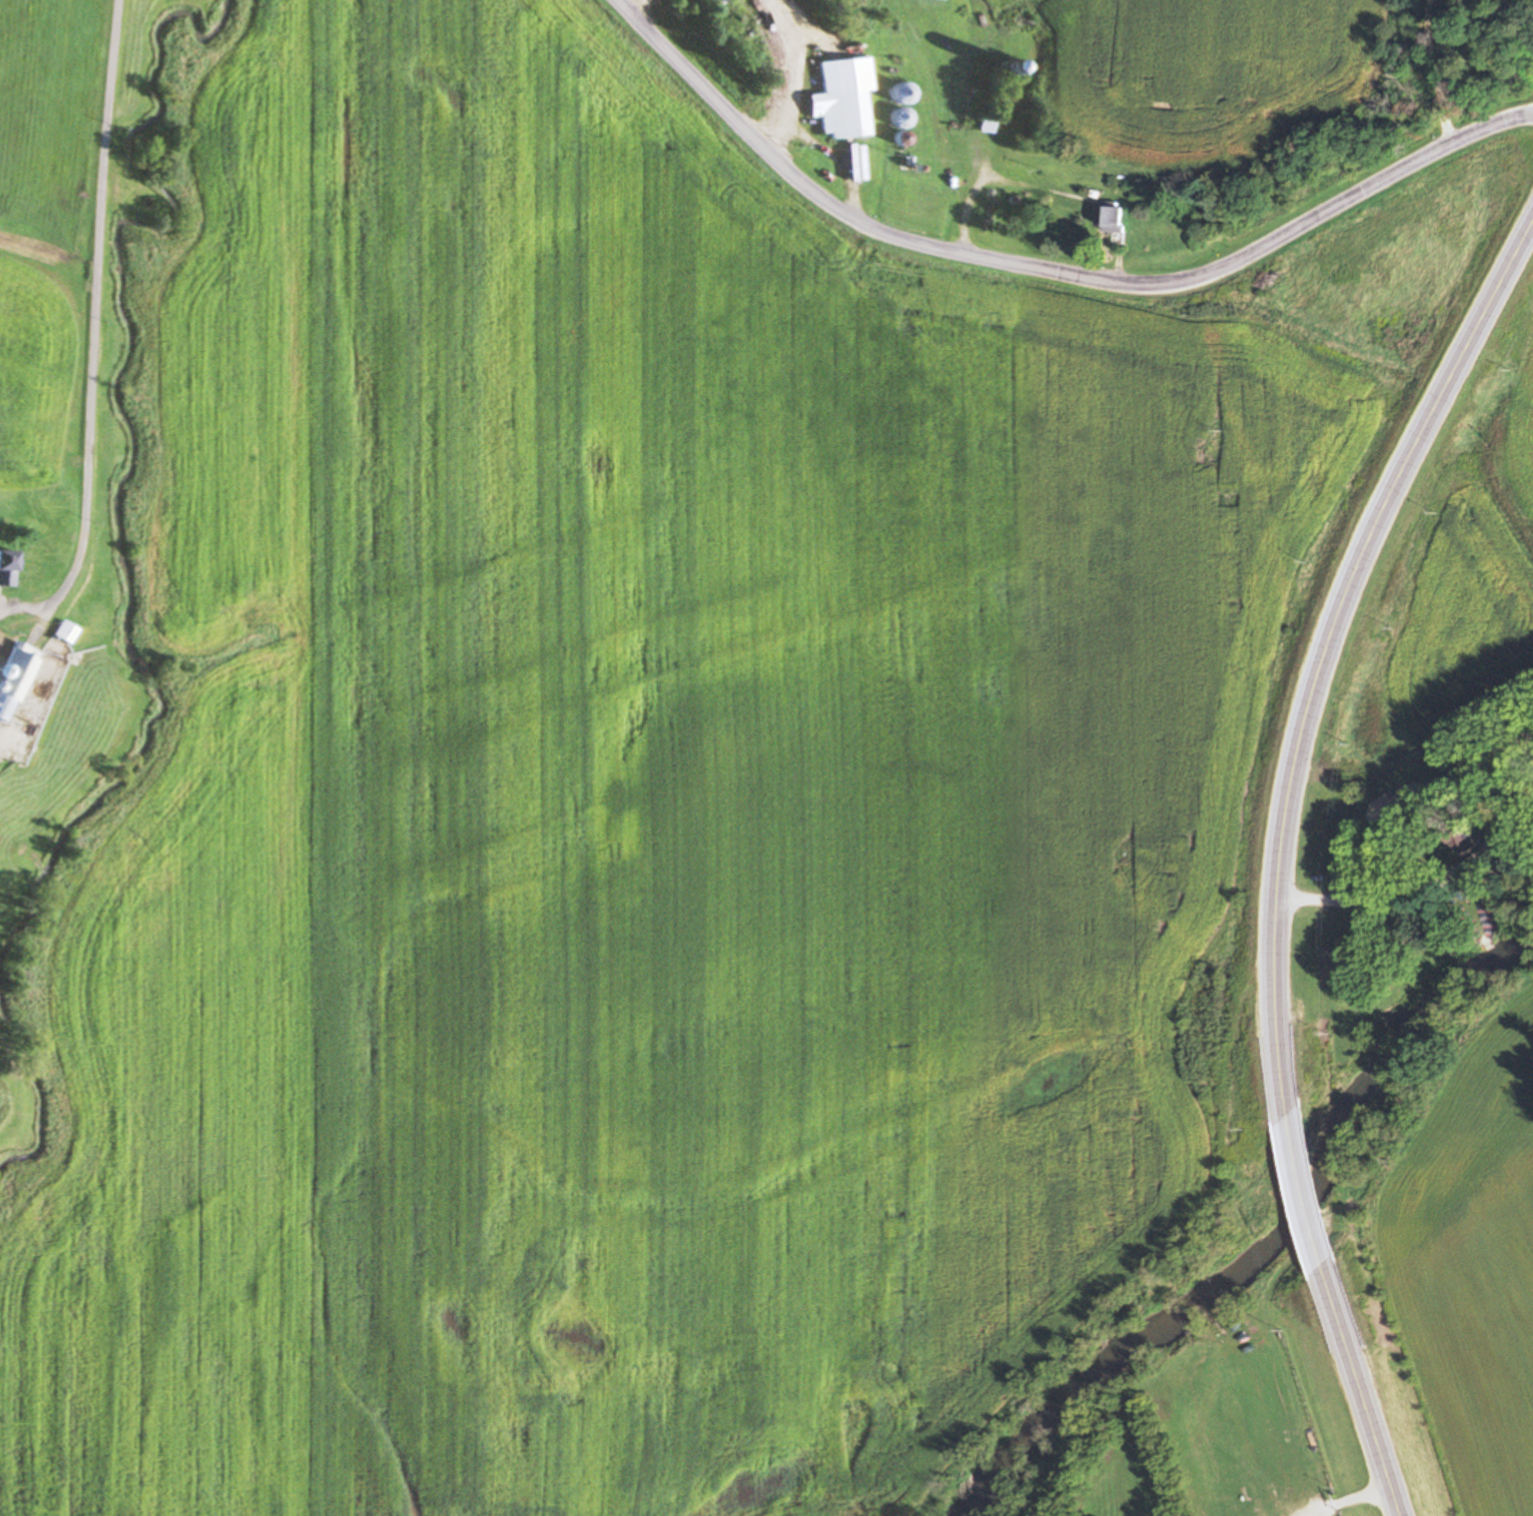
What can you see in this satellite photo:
road: (637, 3)
road: (795, 72)
building: (842, 99)
road: (837, 153)
building: (1108, 219)
road: (1052, 267)
road: (92, 311)
building: (4, 567)
building: (61, 632)
road: (1326, 651)
building: (11, 673)
building: (1462, 840)
road: (1305, 1192)
river: (1275, 1248)
road: (1360, 1390)

